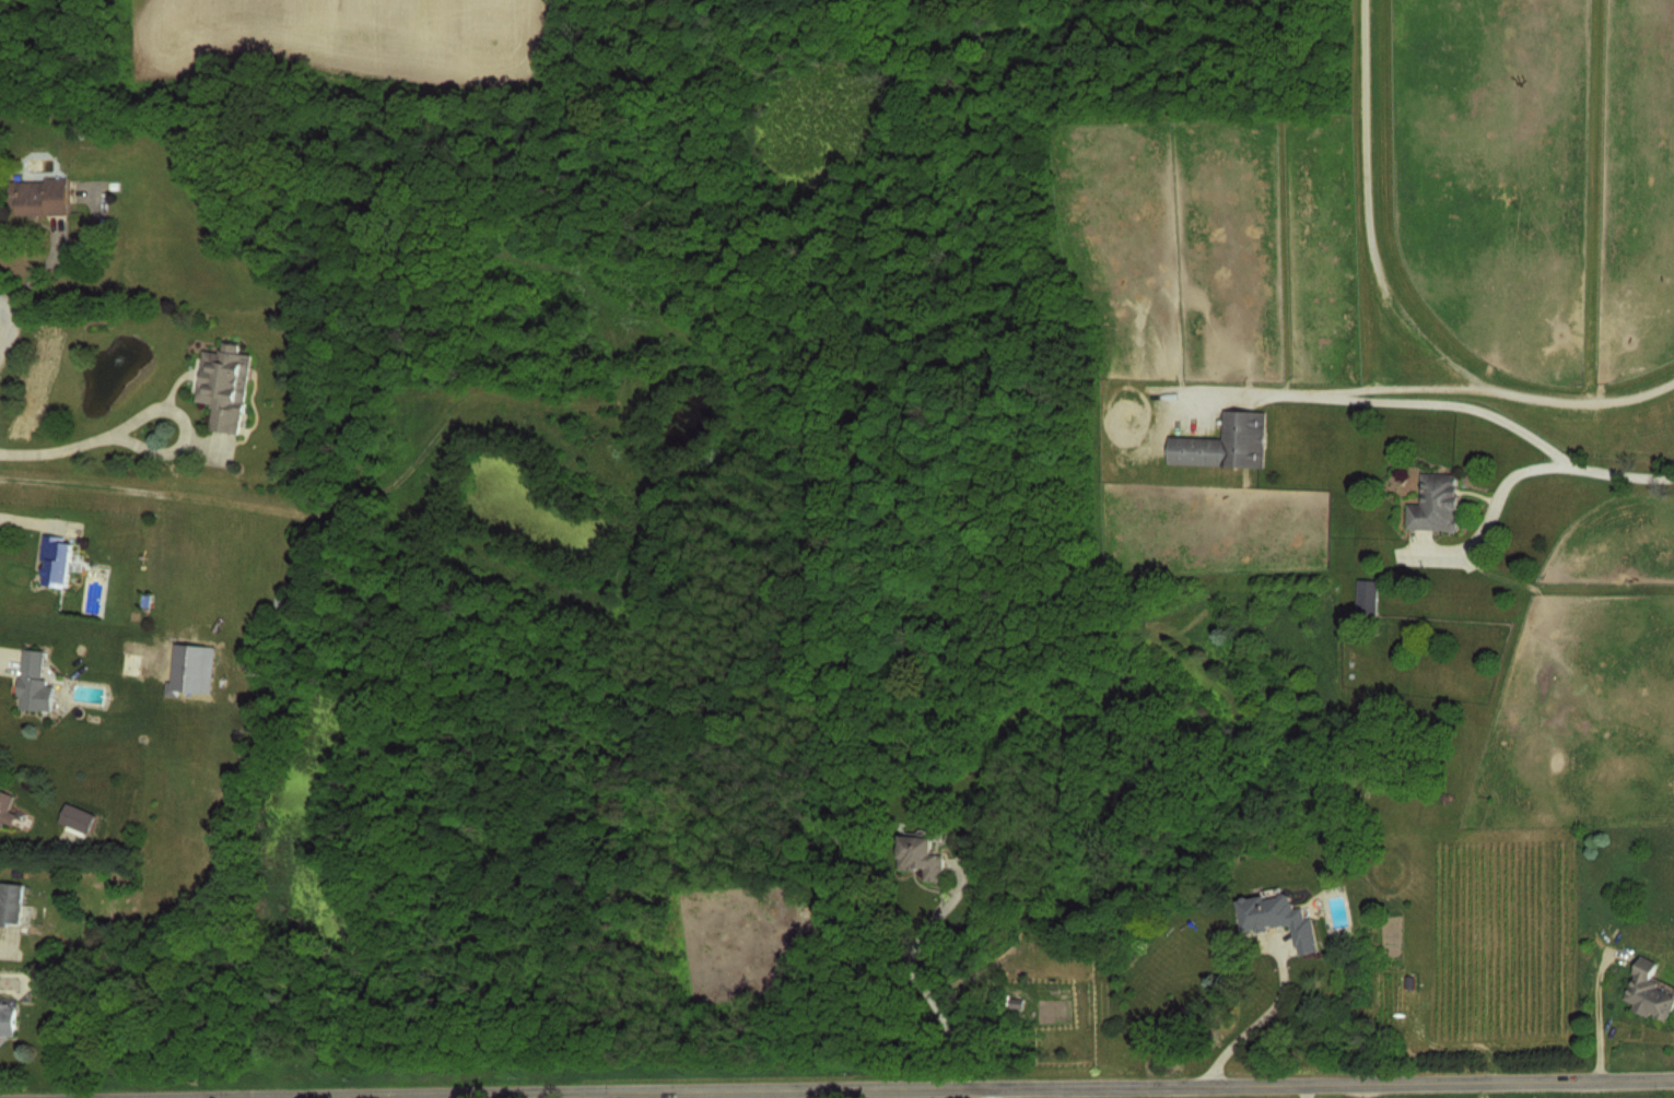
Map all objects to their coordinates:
building: (1087, 134)
building: (37, 197)
road: (11, 317)
building: (224, 385)
road: (1392, 399)
road: (168, 404)
building: (1226, 441)
road: (62, 449)
road: (1520, 470)
building: (1436, 503)
building: (55, 559)
building: (34, 682)
building: (5, 810)
building: (921, 855)
building: (11, 901)
building: (1279, 918)
road: (12, 943)
road: (913, 969)
building: (1650, 991)
road: (1601, 1015)
road: (1267, 1016)
building: (7, 1018)
road: (938, 1085)
road: (792, 1094)
road: (505, 1096)
road: (348, 1097)

